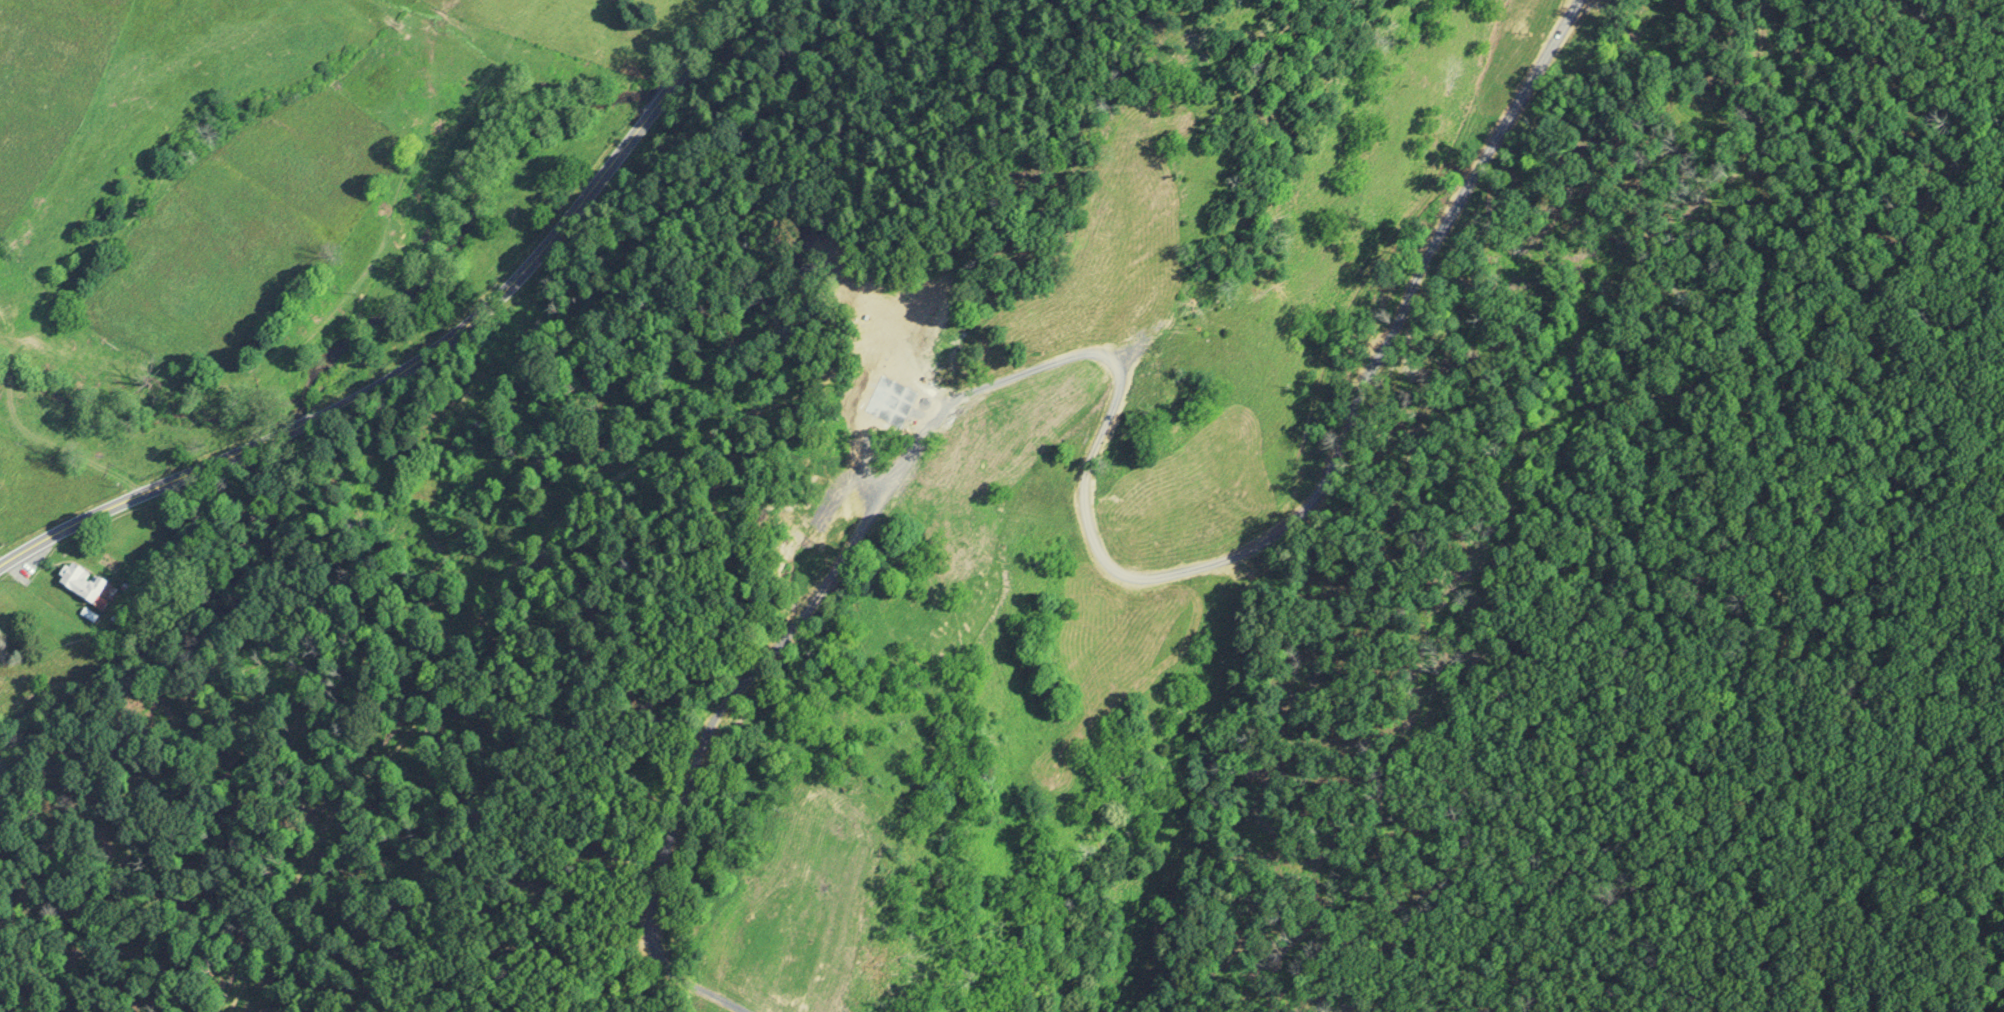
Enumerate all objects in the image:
road: (423, 355)

